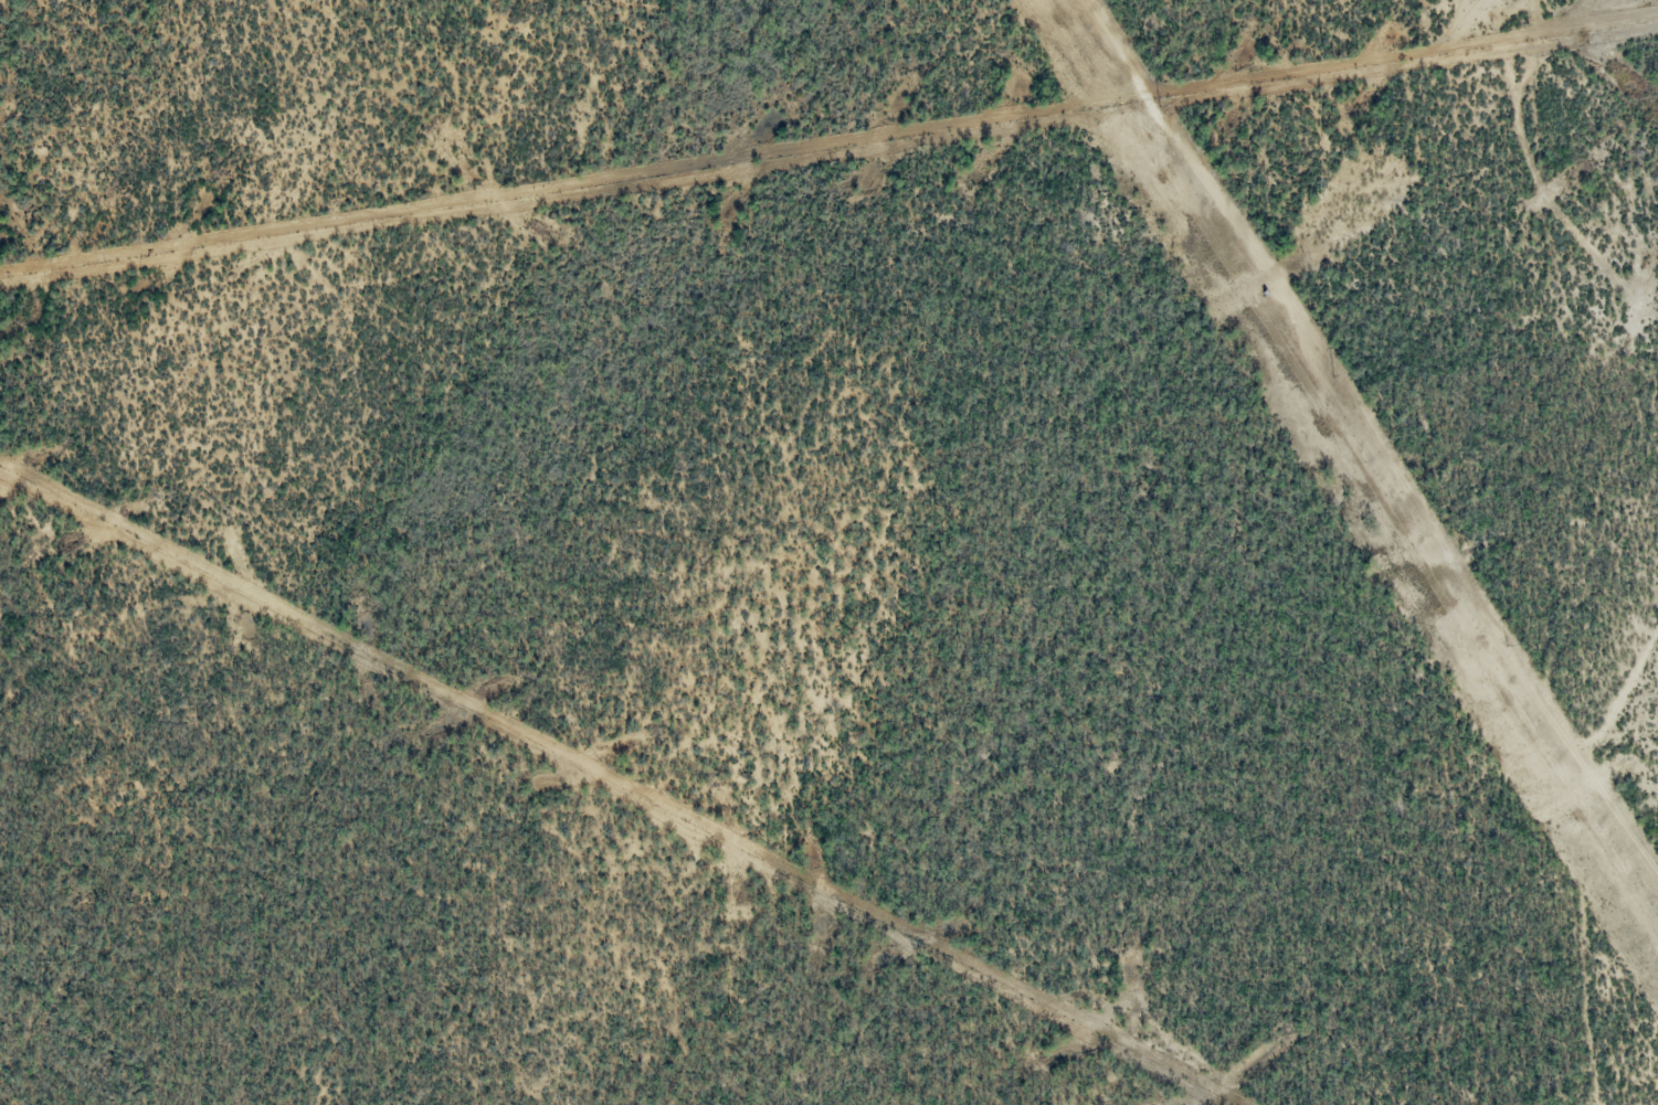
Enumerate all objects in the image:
power tower: (1159, 105)
power tower: (1332, 371)
power tower: (1507, 644)

